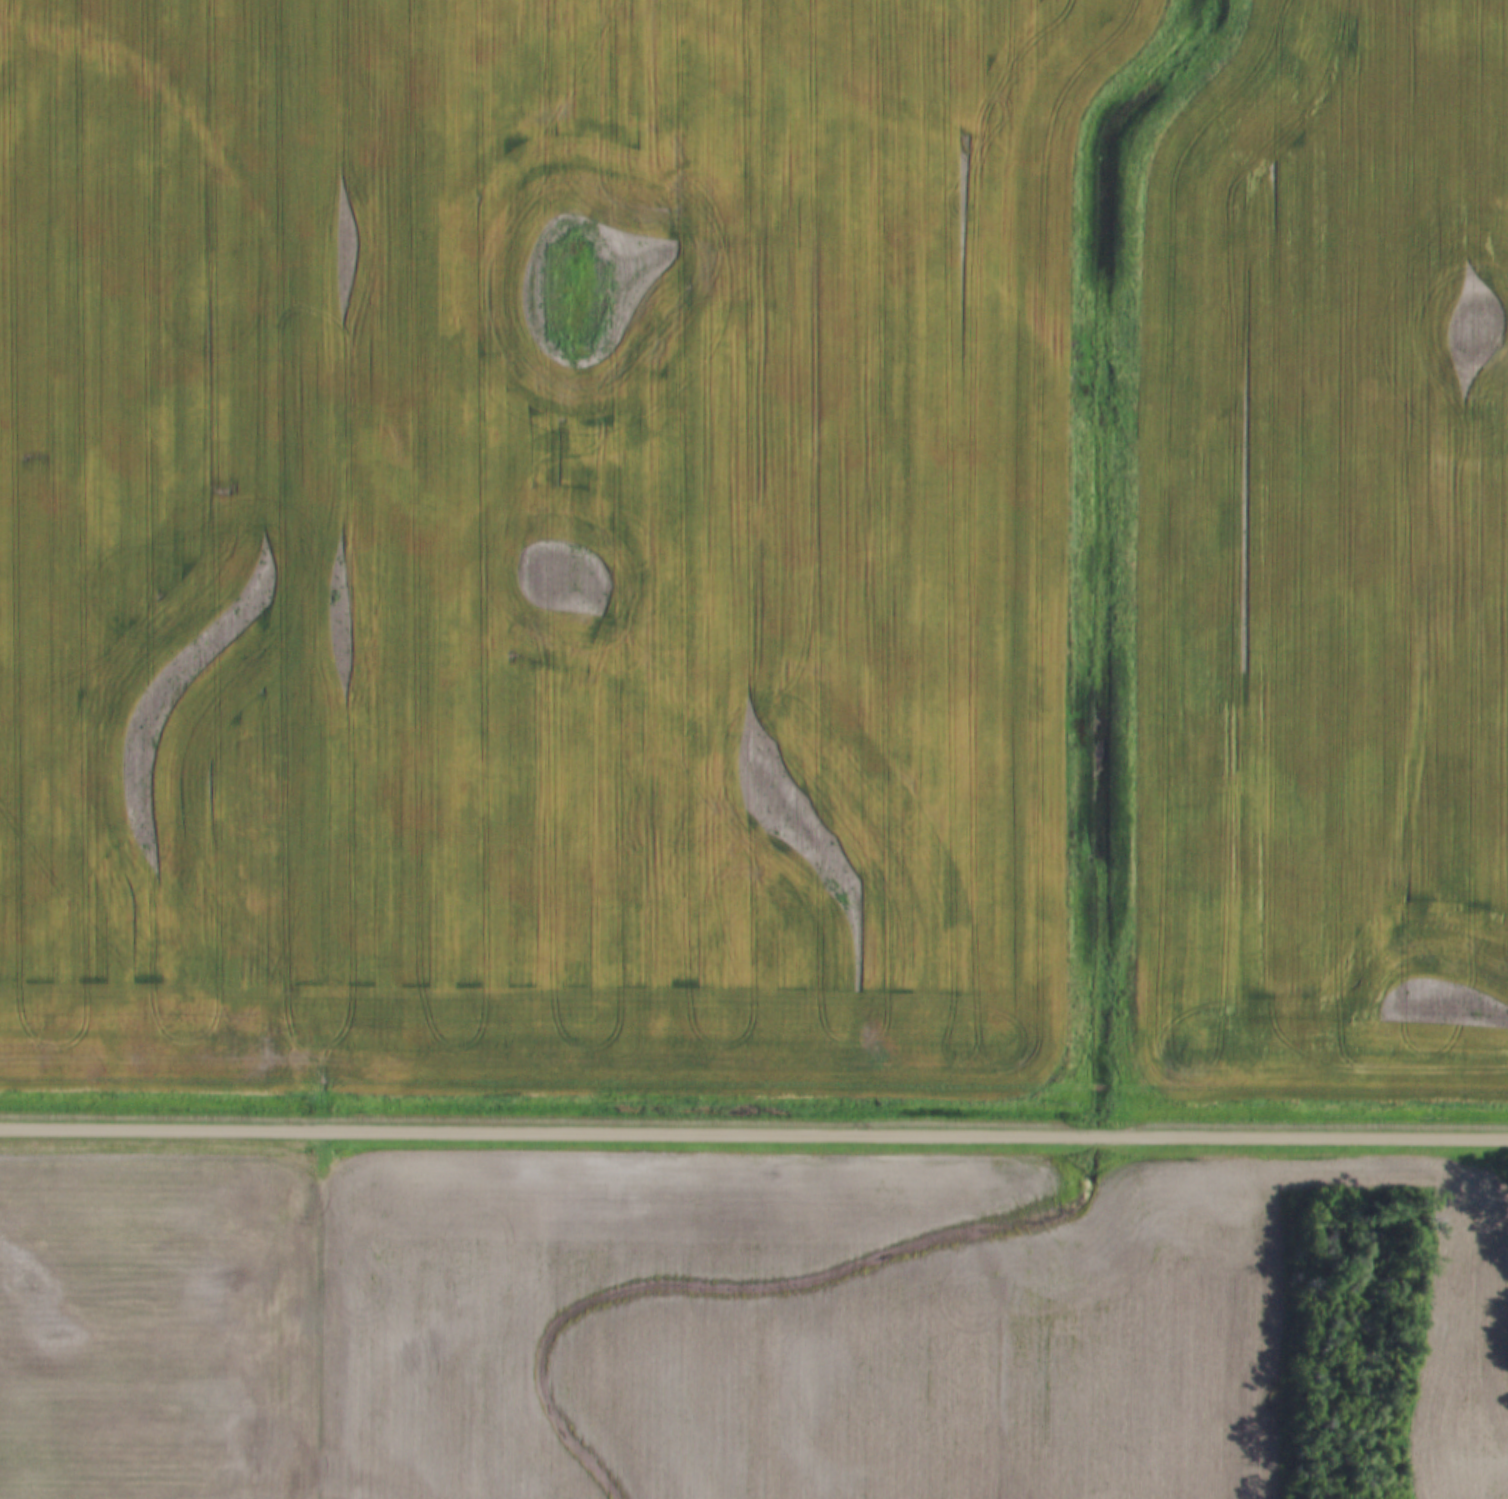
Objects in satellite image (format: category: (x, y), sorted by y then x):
road: (754, 1136)

